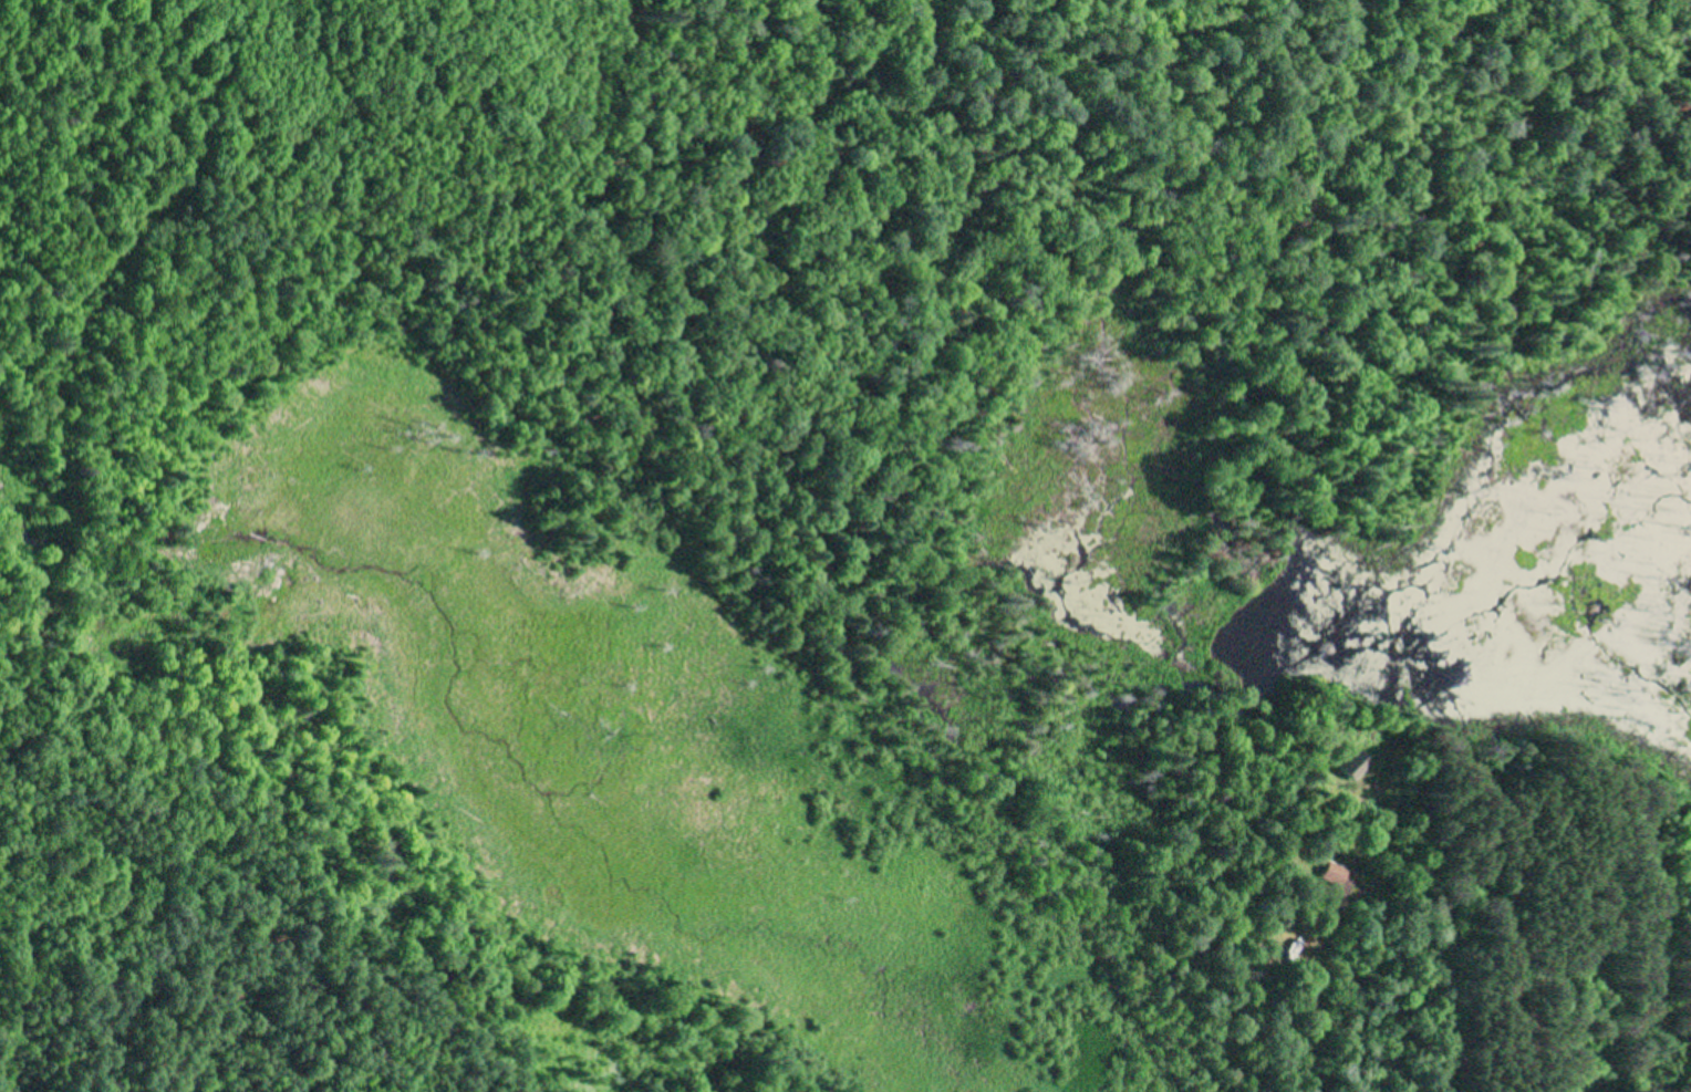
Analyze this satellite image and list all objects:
building: (1335, 872)

